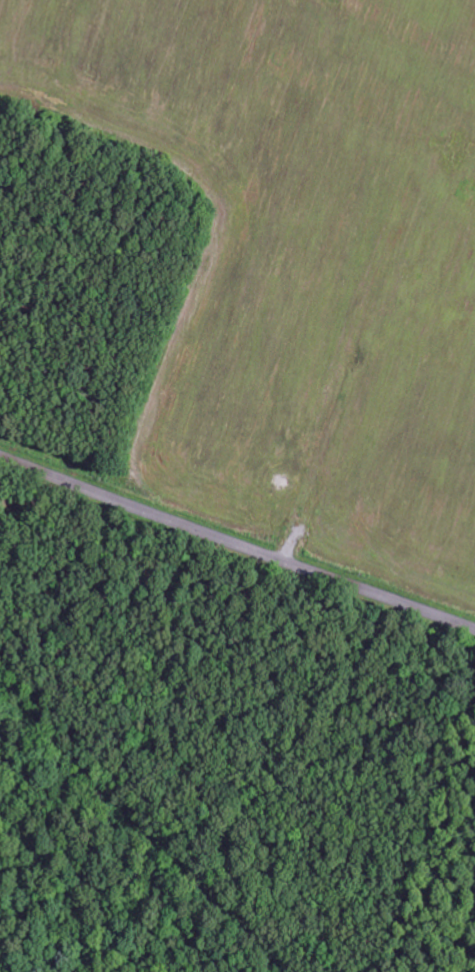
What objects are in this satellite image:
road: (237, 540)

